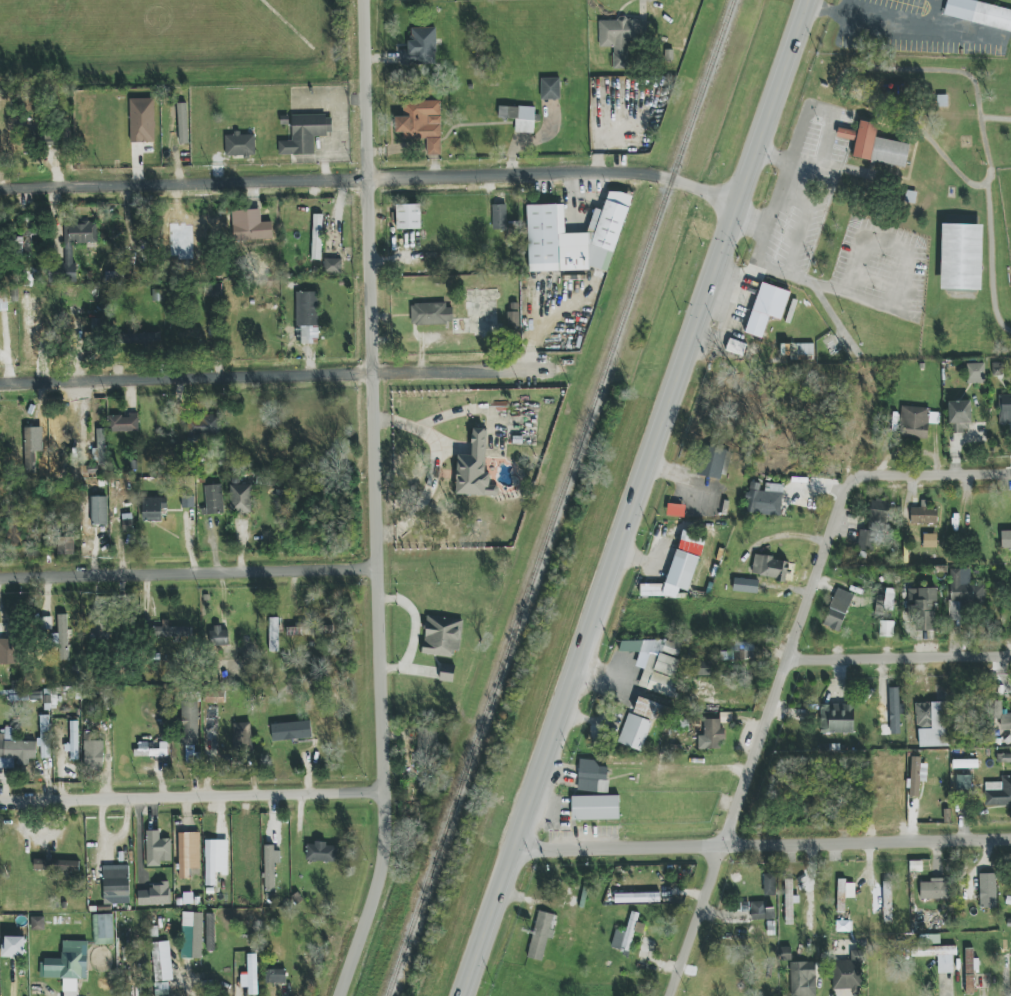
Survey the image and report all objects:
building: (979, 13)
building: (620, 37)
building: (420, 47)
building: (550, 88)
building: (519, 117)
building: (142, 120)
road: (896, 120)
building: (183, 123)
building: (421, 123)
building: (305, 134)
building: (240, 145)
building: (876, 146)
road: (986, 146)
road: (775, 156)
road: (371, 178)
parking lot: (807, 190)
park: (902, 196)
park: (1007, 199)
road: (801, 215)
building: (408, 216)
road: (755, 216)
building: (499, 217)
building: (250, 226)
building: (317, 237)
building: (574, 237)
building: (72, 248)
road: (907, 252)
park: (963, 256)
building: (961, 257)
building: (332, 266)
parking lot: (879, 269)
road: (815, 282)
building: (213, 290)
building: (766, 308)
building: (432, 314)
building: (513, 315)
building: (307, 316)
road: (833, 317)
building: (191, 333)
building: (140, 339)
building: (736, 347)
building: (796, 352)
building: (976, 373)
road: (264, 377)
building: (1005, 409)
building: (959, 416)
building: (916, 421)
building: (123, 423)
building: (202, 427)
building: (101, 447)
building: (31, 448)
building: (716, 463)
building: (474, 469)
road: (932, 475)
building: (240, 495)
railway: (561, 497)
road: (635, 497)
building: (214, 499)
building: (764, 499)
road: (375, 501)
building: (187, 502)
building: (153, 508)
building: (676, 510)
building: (99, 511)
building: (923, 515)
building: (127, 522)
building: (876, 525)
building: (1006, 539)
building: (930, 541)
building: (66, 545)
building: (770, 568)
road: (188, 572)
building: (745, 585)
building: (963, 595)
building: (885, 598)
building: (922, 609)
building: (837, 610)
building: (46, 623)
building: (886, 629)
building: (309, 630)
building: (170, 631)
building: (220, 636)
building: (442, 636)
building: (62, 637)
building: (8, 651)
building: (739, 651)
road: (899, 658)
building: (656, 663)
building: (704, 669)
building: (447, 673)
building: (214, 695)
building: (36, 697)
building: (649, 709)
building: (895, 710)
building: (837, 719)
building: (189, 723)
building: (932, 724)
building: (291, 731)
building: (634, 732)
building: (711, 735)
road: (761, 736)
building: (45, 737)
building: (241, 738)
building: (73, 740)
building: (425, 747)
building: (152, 750)
building: (15, 751)
building: (94, 755)
building: (964, 764)
building: (917, 775)
building: (592, 777)
building: (963, 782)
building: (998, 793)
road: (191, 797)
building: (595, 808)
road: (762, 846)
building: (157, 849)
building: (321, 852)
building: (183, 855)
building: (210, 862)
building: (56, 865)
building: (270, 869)
building: (116, 879)
building: (769, 885)
building: (937, 891)
building: (987, 891)
building: (844, 894)
building: (155, 895)
building: (637, 898)
building: (1008, 900)
building: (788, 901)
building: (887, 901)
building: (761, 911)
building: (38, 923)
building: (103, 929)
building: (210, 932)
building: (627, 934)
building: (192, 935)
building: (541, 935)
building: (13, 946)
building: (934, 952)
building: (786, 954)
building: (68, 965)
building: (161, 968)
building: (970, 970)
building: (849, 972)
building: (252, 974)
building: (275, 976)
building: (803, 979)

